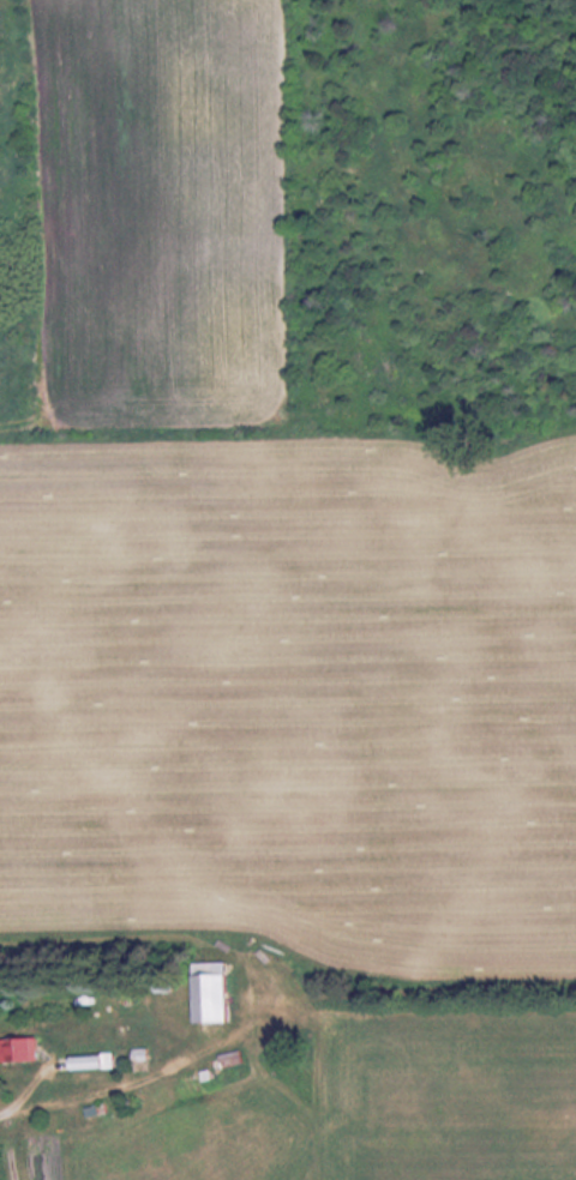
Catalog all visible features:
building: (218, 1001)
building: (24, 1052)
building: (232, 1060)
building: (96, 1064)

